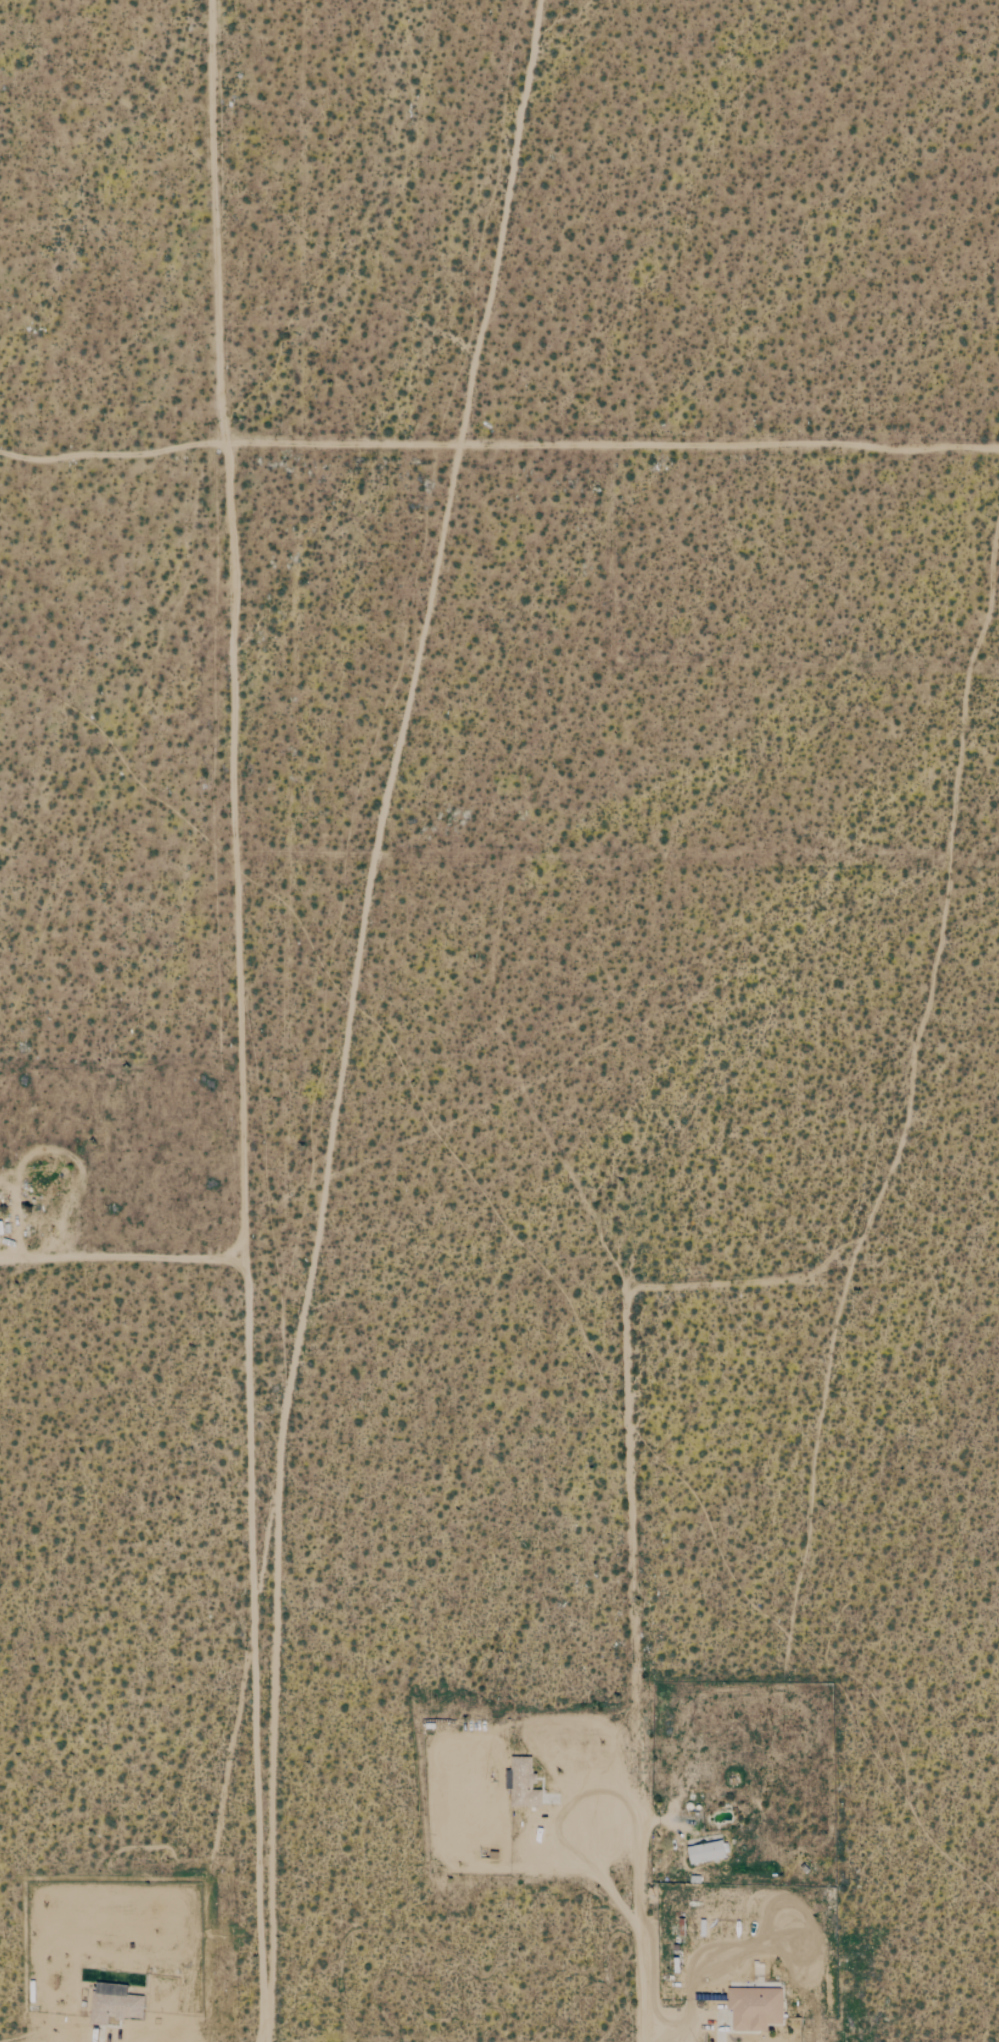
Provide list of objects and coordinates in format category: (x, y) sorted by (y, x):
road: (611, 445)
road: (111, 452)
road: (232, 702)
road: (125, 1260)
road: (633, 1666)
road: (259, 1723)
building: (525, 1783)
road: (661, 1819)
building: (708, 1852)
road: (593, 1857)
building: (115, 2003)
building: (756, 2008)

